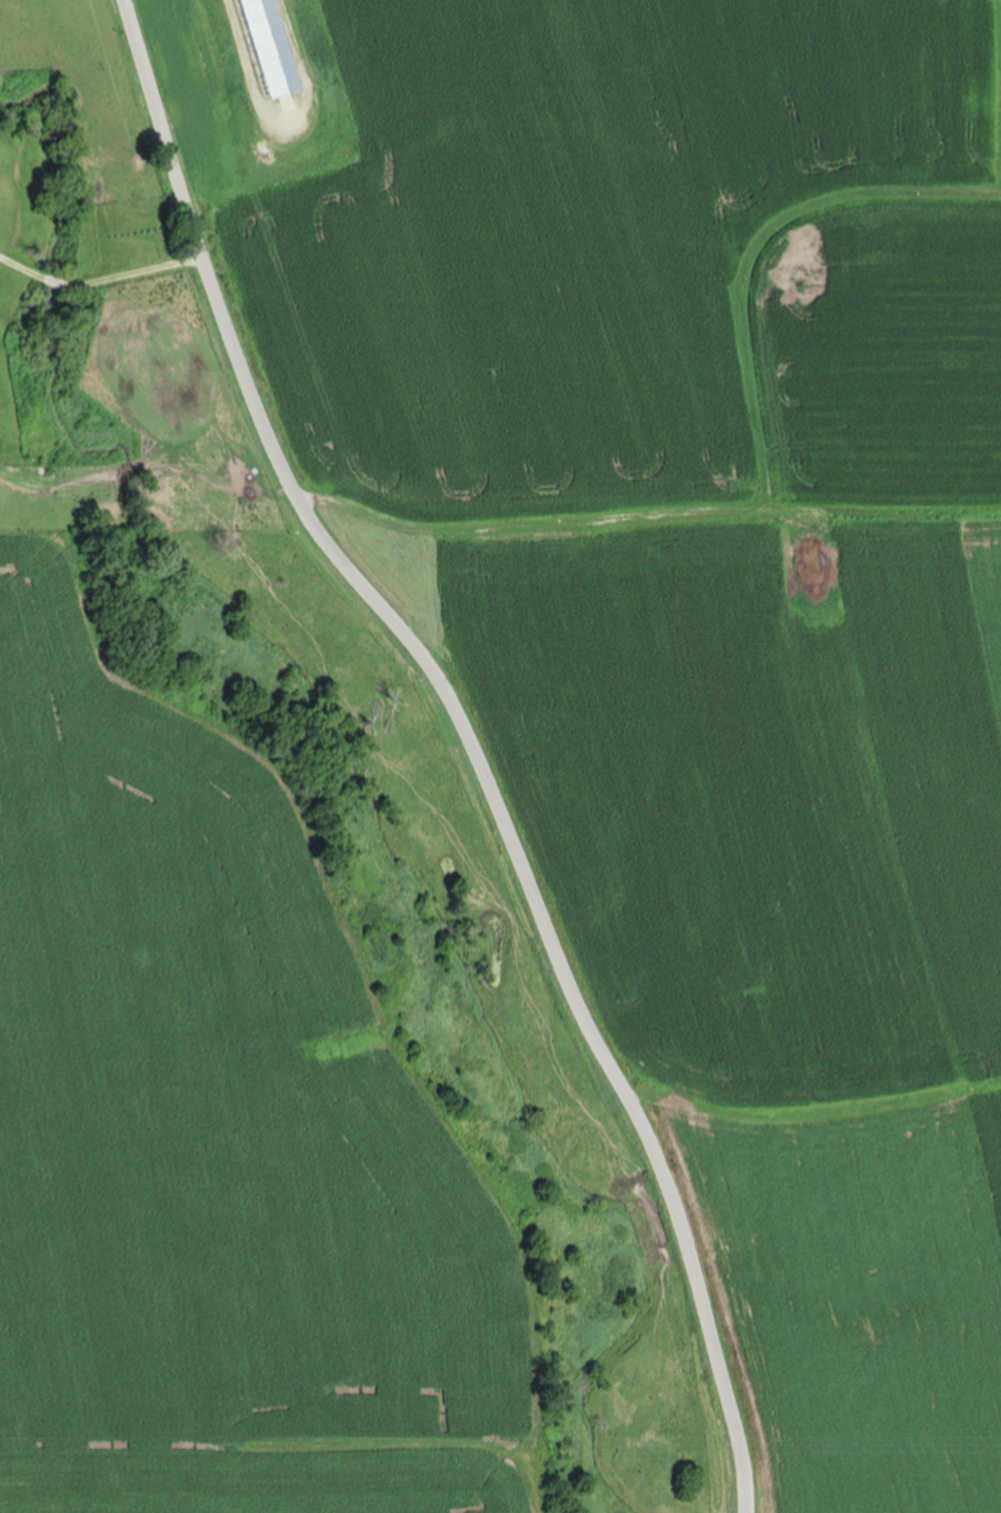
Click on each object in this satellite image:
building: (265, 47)
road: (98, 280)
road: (429, 751)

